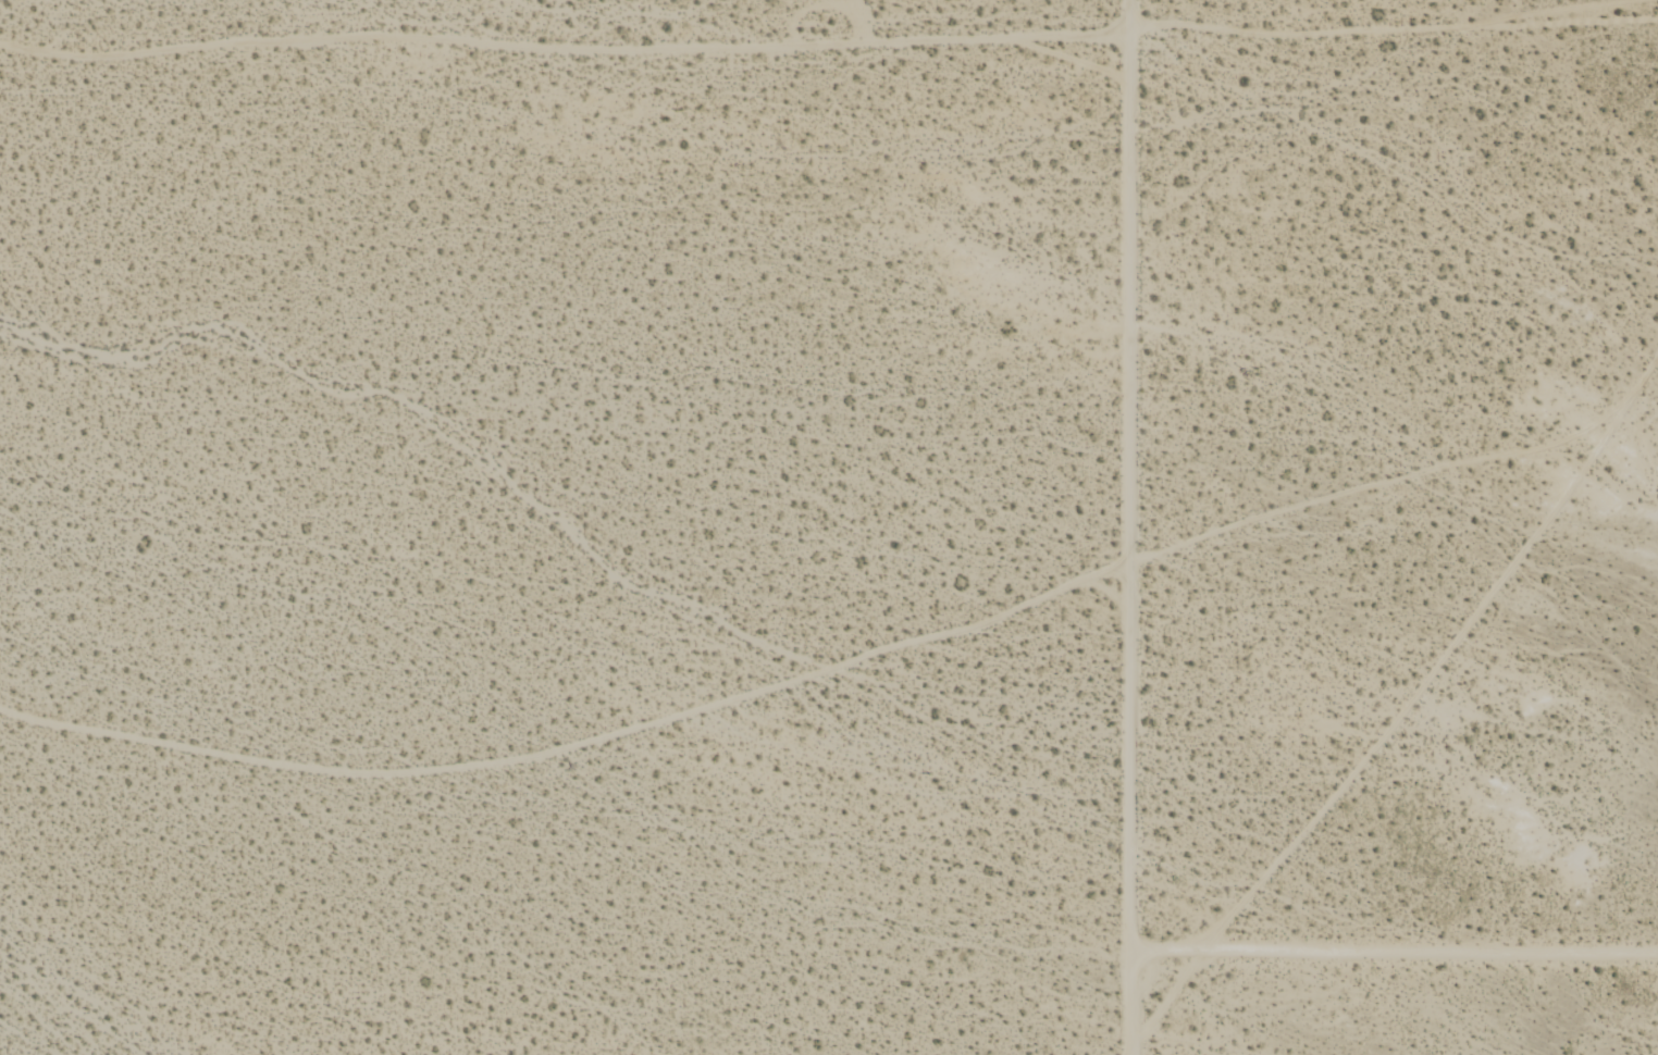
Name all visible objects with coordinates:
road: (1341, 22)
road: (1139, 527)
road: (586, 754)
road: (1396, 949)

